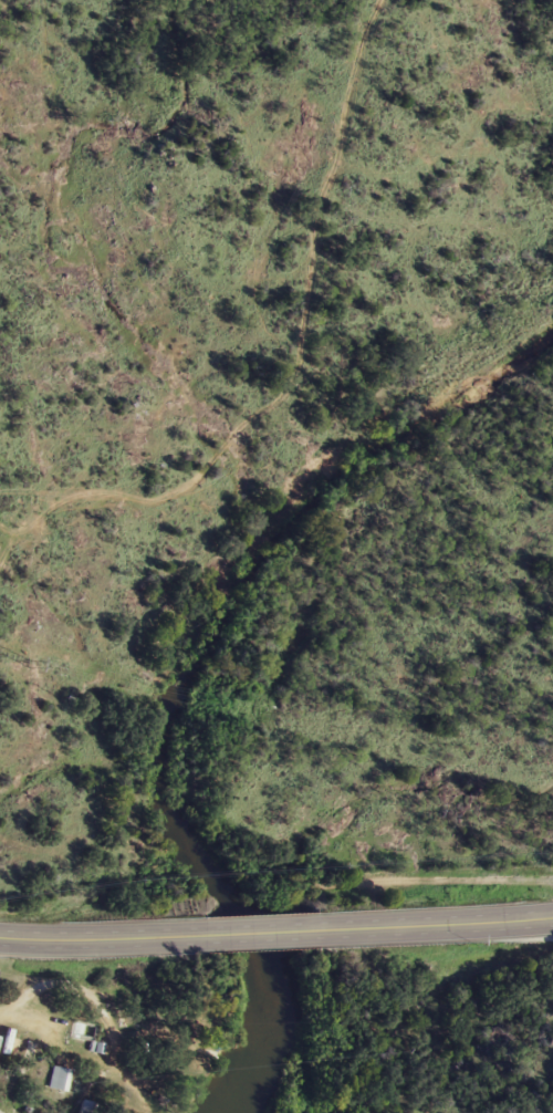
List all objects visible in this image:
road: (285, 373)
power tower: (28, 662)
road: (440, 924)
road: (268, 930)
road: (104, 936)
road: (73, 986)
building: (87, 1038)
building: (61, 1079)
building: (90, 1106)

